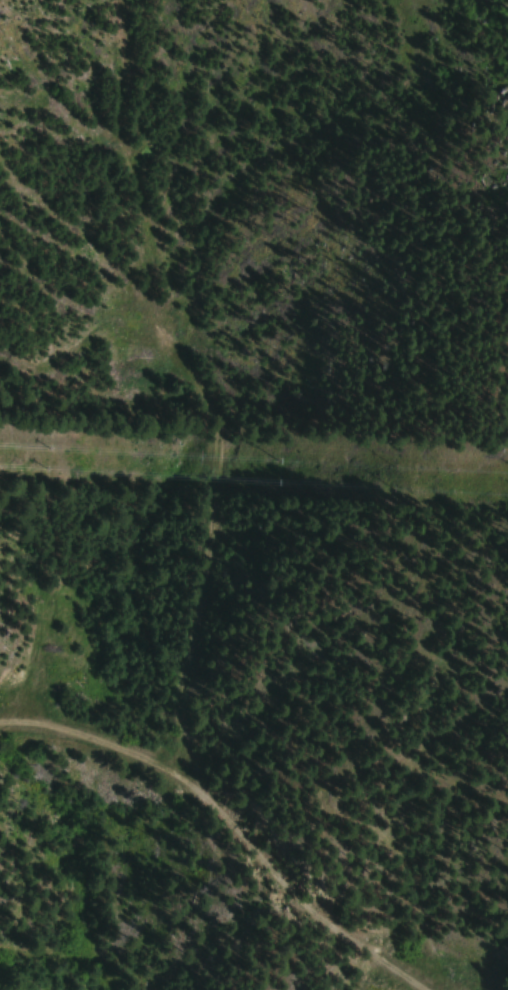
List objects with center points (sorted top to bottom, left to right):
road: (222, 836)

